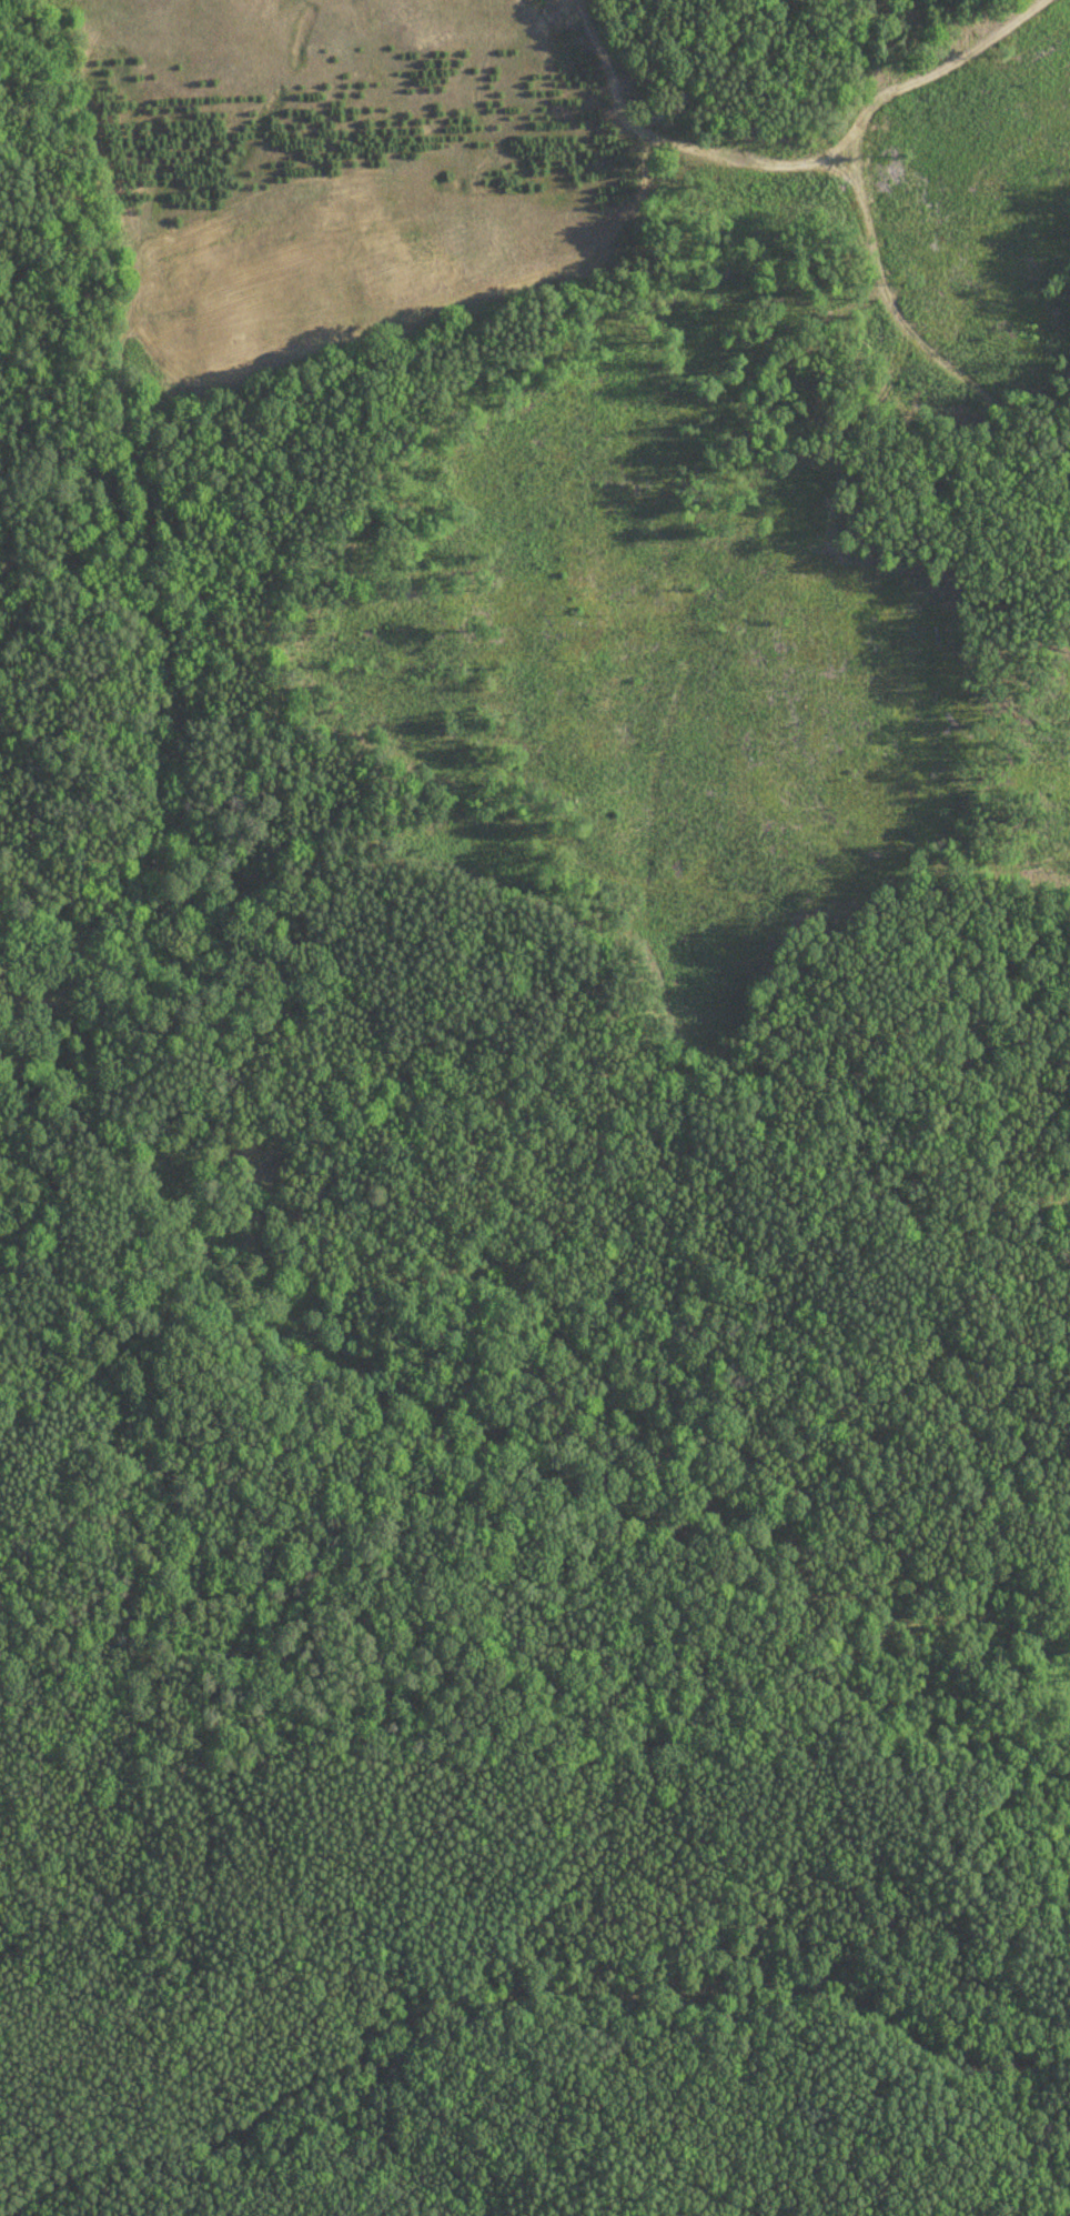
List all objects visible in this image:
road: (675, 141)
road: (869, 233)

